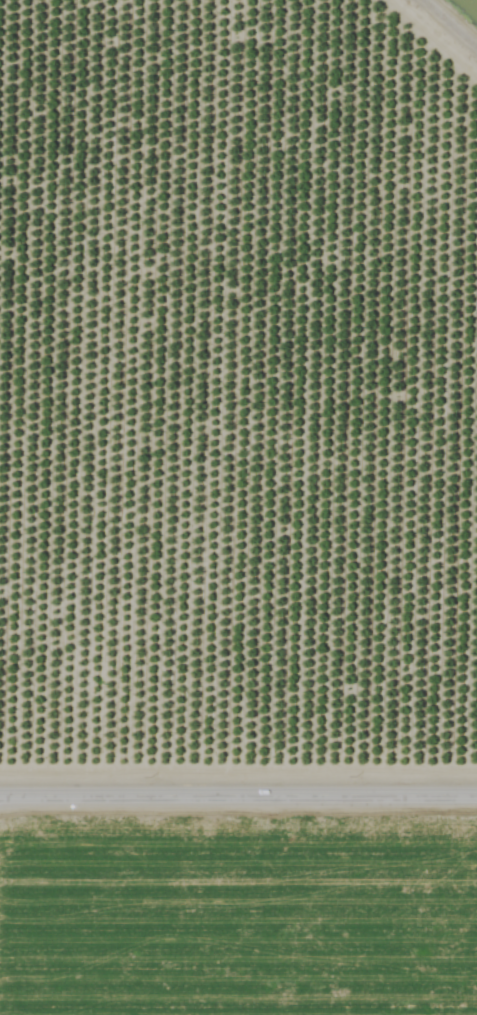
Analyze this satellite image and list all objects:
road: (449, 24)
crop: (238, 507)
road: (238, 798)

